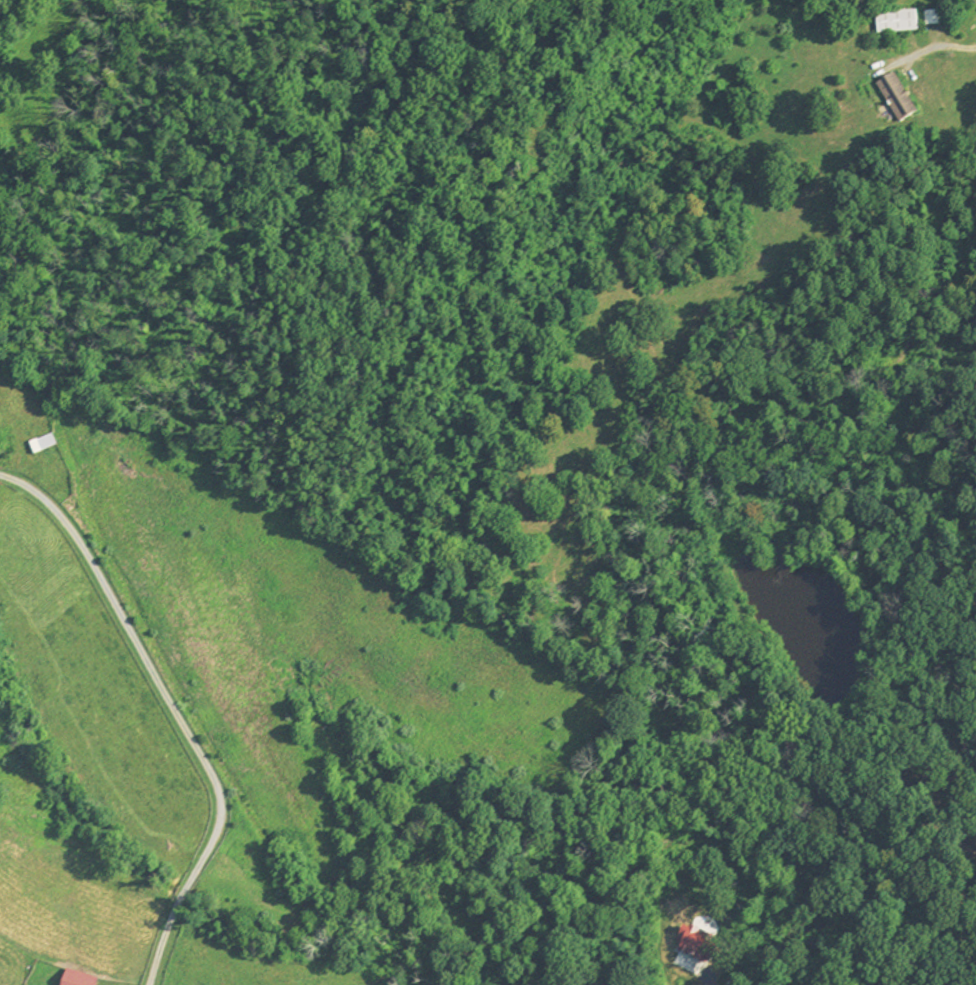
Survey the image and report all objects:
building: (897, 23)
road: (938, 47)
building: (897, 99)
building: (41, 446)
road: (173, 712)
building: (76, 980)

